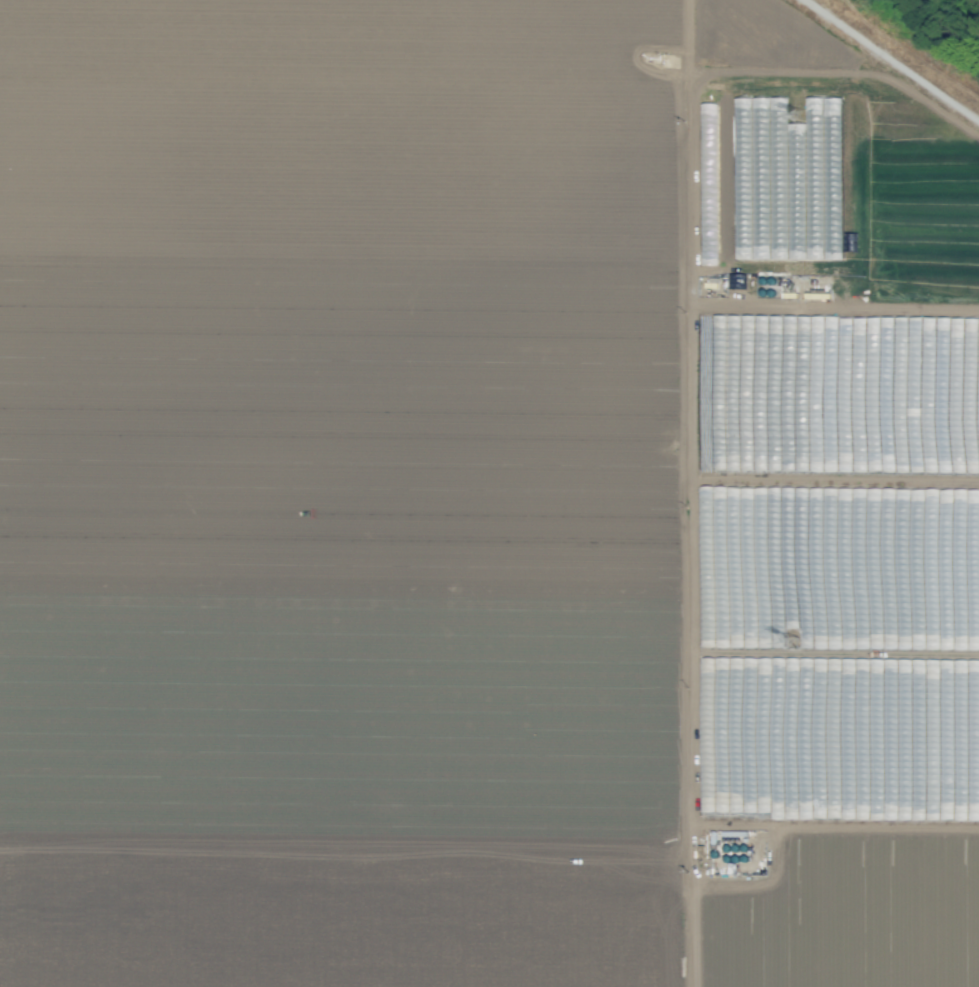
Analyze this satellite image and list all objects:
river: (930, 34)
power tower: (800, 116)
building: (881, 421)
crop: (483, 499)
power tower: (792, 645)
building: (845, 740)

